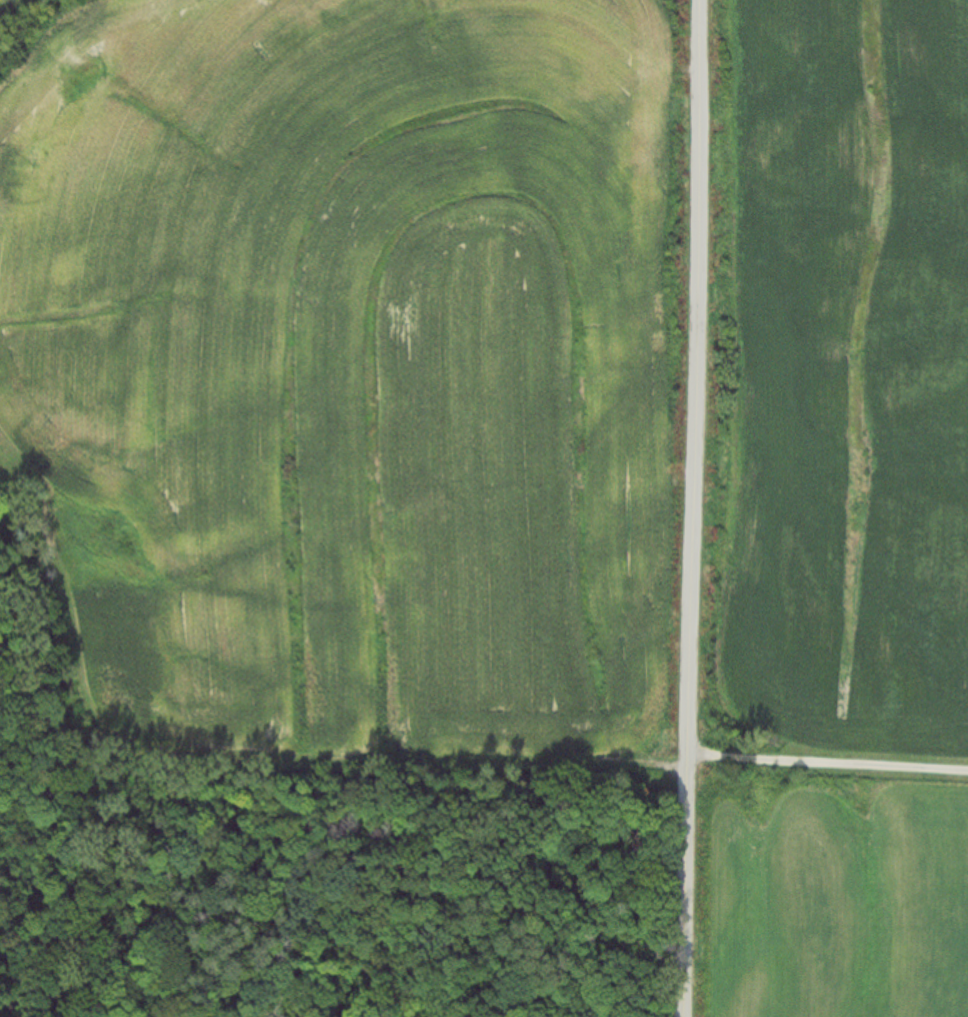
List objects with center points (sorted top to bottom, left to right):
road: (694, 508)
road: (829, 763)

